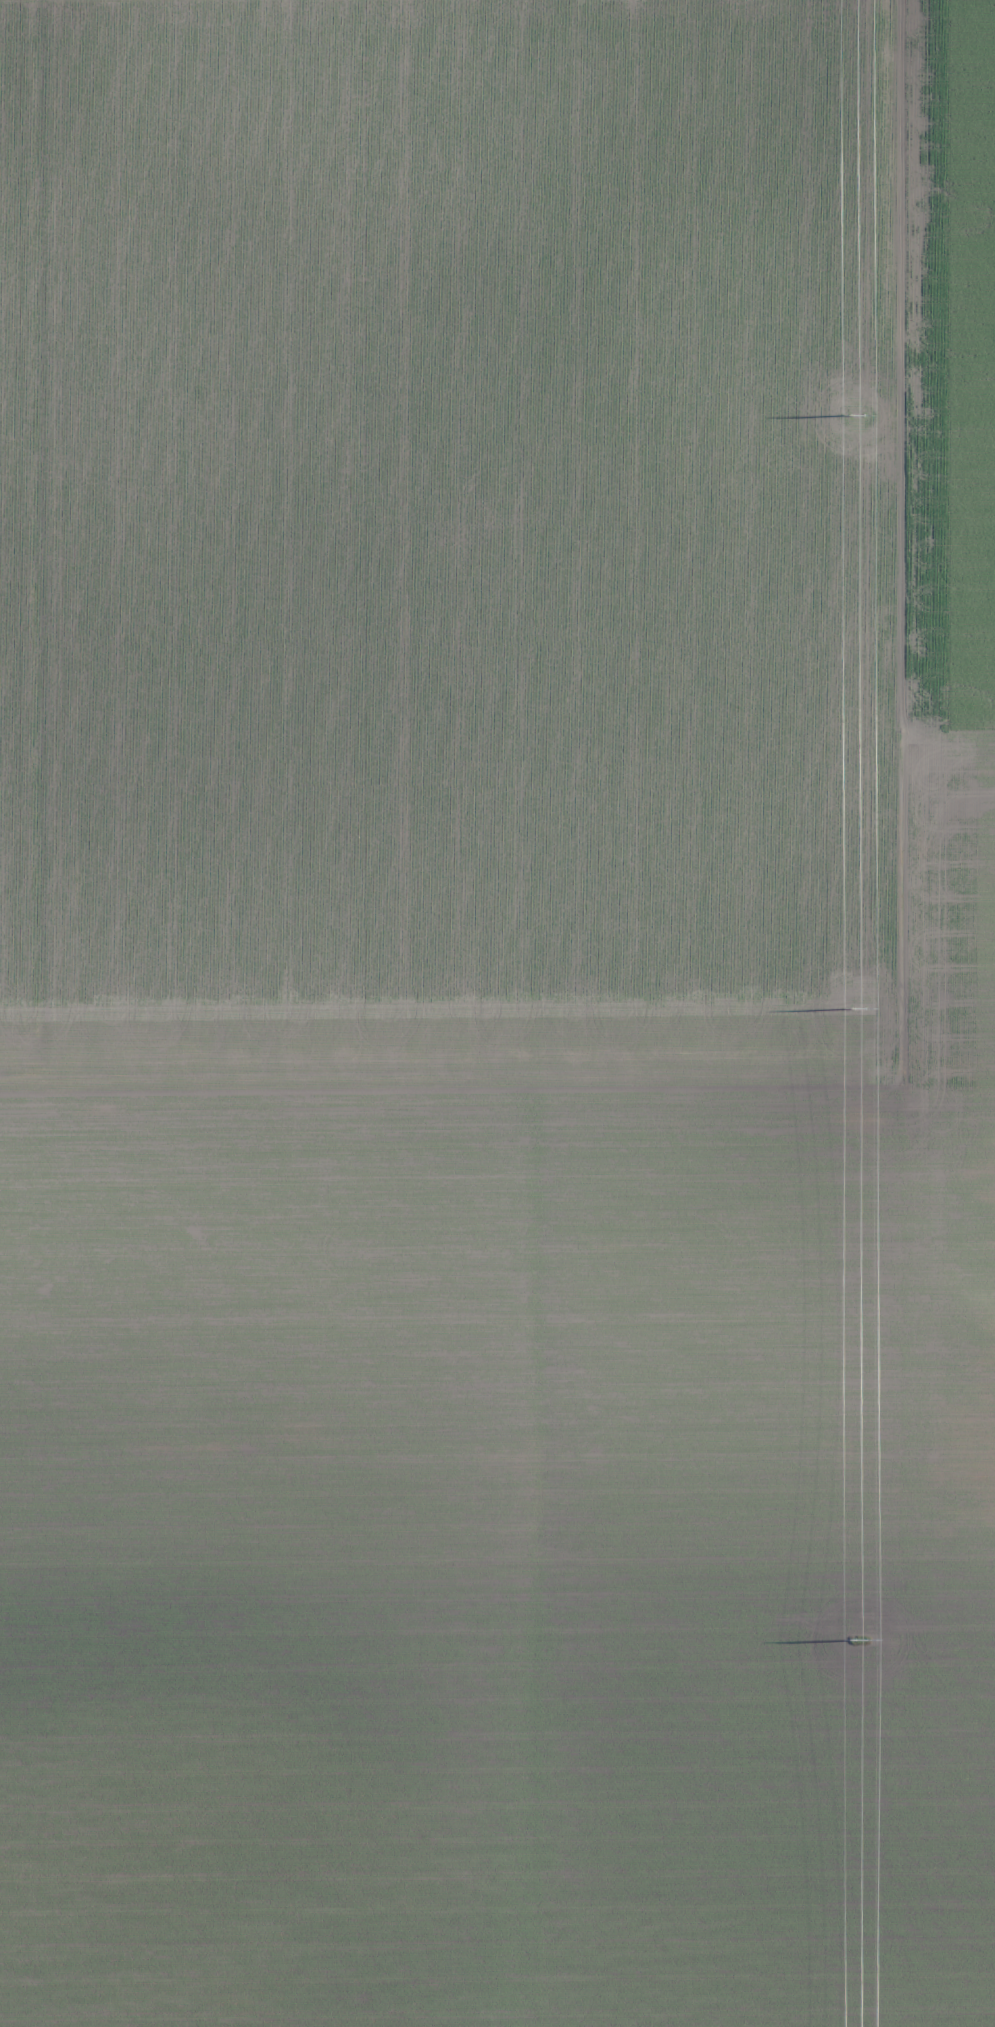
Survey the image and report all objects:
road: (905, 170)
power tower: (853, 413)
power tower: (855, 1005)
power tower: (857, 1637)

